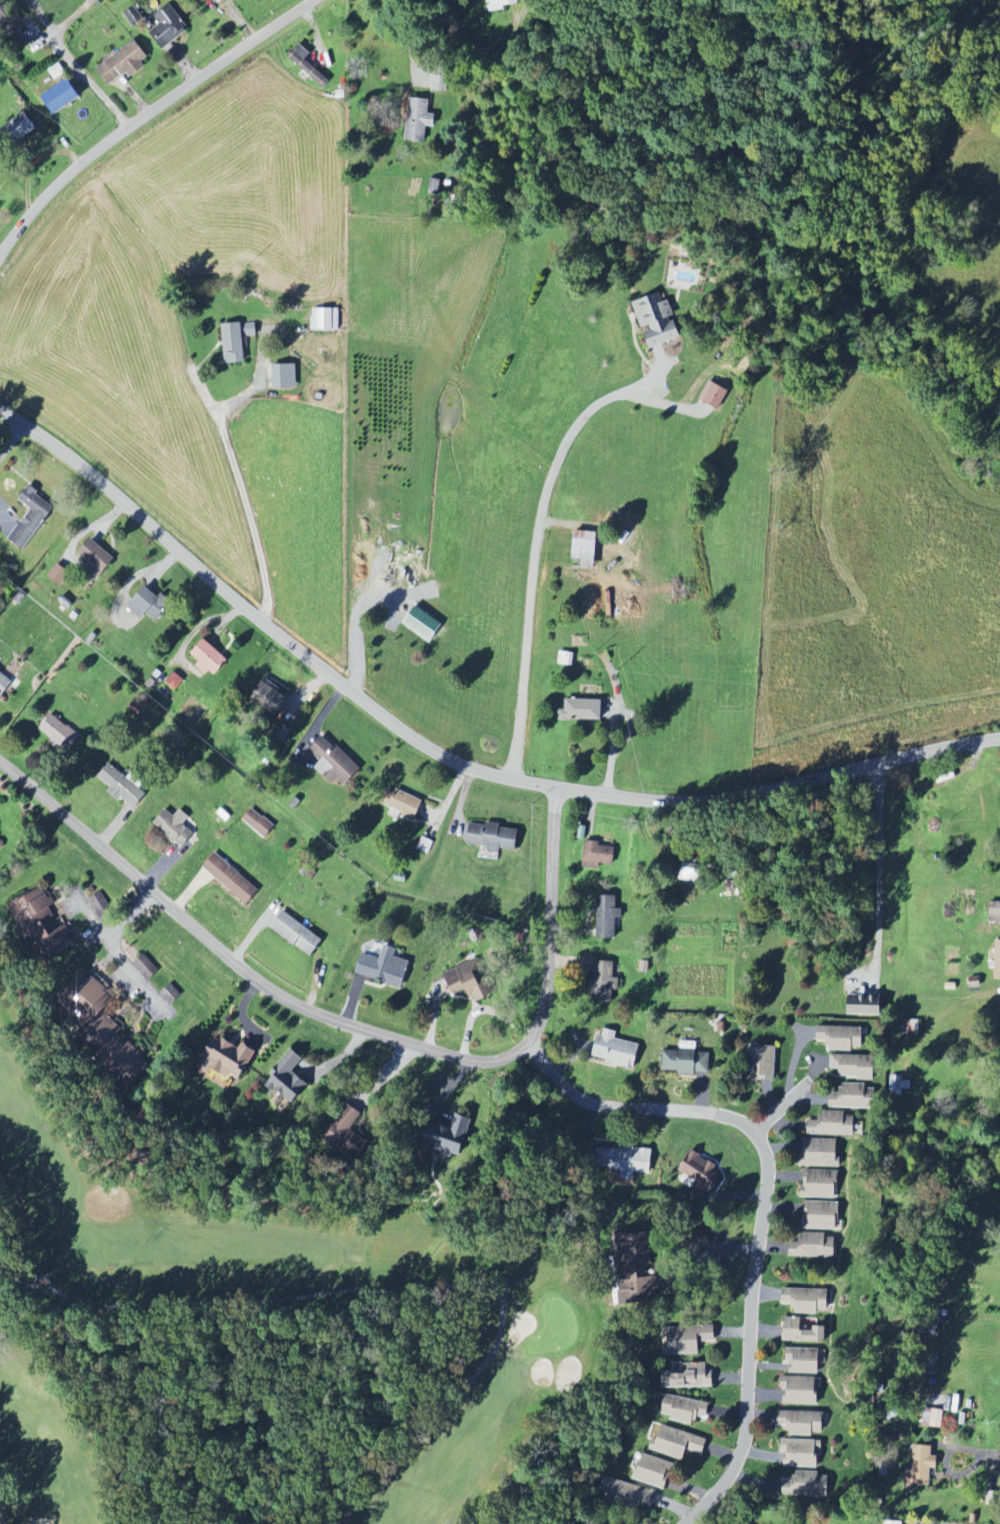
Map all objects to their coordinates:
building: (217, 1)
building: (499, 4)
building: (132, 16)
building: (167, 27)
road: (72, 63)
building: (123, 63)
building: (306, 65)
building: (439, 79)
building: (61, 97)
road: (147, 115)
building: (417, 120)
building: (19, 129)
building: (434, 187)
building: (324, 320)
building: (657, 321)
building: (236, 341)
building: (284, 377)
building: (714, 396)
park: (0, 429)
road: (12, 441)
road: (238, 479)
building: (30, 518)
building: (585, 546)
road: (532, 553)
building: (97, 556)
building: (58, 575)
building: (149, 605)
building: (422, 624)
building: (209, 659)
building: (174, 682)
building: (4, 684)
building: (270, 697)
building: (581, 711)
building: (58, 733)
road: (447, 755)
building: (334, 762)
building: (121, 787)
building: (401, 804)
building: (257, 823)
building: (174, 827)
building: (493, 838)
building: (598, 855)
road: (879, 869)
building: (230, 879)
building: (100, 905)
road: (90, 911)
building: (995, 913)
building: (607, 917)
building: (40, 926)
building: (297, 934)
road: (110, 941)
building: (998, 961)
building: (146, 967)
building: (384, 968)
building: (604, 980)
building: (469, 981)
building: (171, 994)
building: (866, 1005)
building: (92, 1011)
road: (354, 1026)
building: (841, 1038)
building: (615, 1050)
building: (226, 1058)
building: (687, 1060)
building: (763, 1064)
building: (127, 1066)
building: (853, 1066)
building: (289, 1078)
building: (852, 1097)
road: (779, 1109)
building: (832, 1125)
building: (348, 1135)
building: (449, 1138)
building: (820, 1153)
building: (625, 1161)
building: (700, 1176)
building: (819, 1184)
road: (761, 1207)
building: (821, 1215)
building: (814, 1247)
road: (718, 1248)
building: (635, 1264)
building: (806, 1301)
building: (802, 1332)
park: (265, 1339)
building: (686, 1340)
building: (803, 1361)
building: (688, 1378)
building: (799, 1391)
building: (683, 1410)
building: (931, 1420)
building: (802, 1423)
building: (677, 1443)
building: (801, 1453)
road: (993, 1453)
building: (920, 1467)
road: (945, 1468)
building: (653, 1472)
building: (807, 1485)
building: (630, 1495)
building: (587, 1522)
building: (891, 1523)

